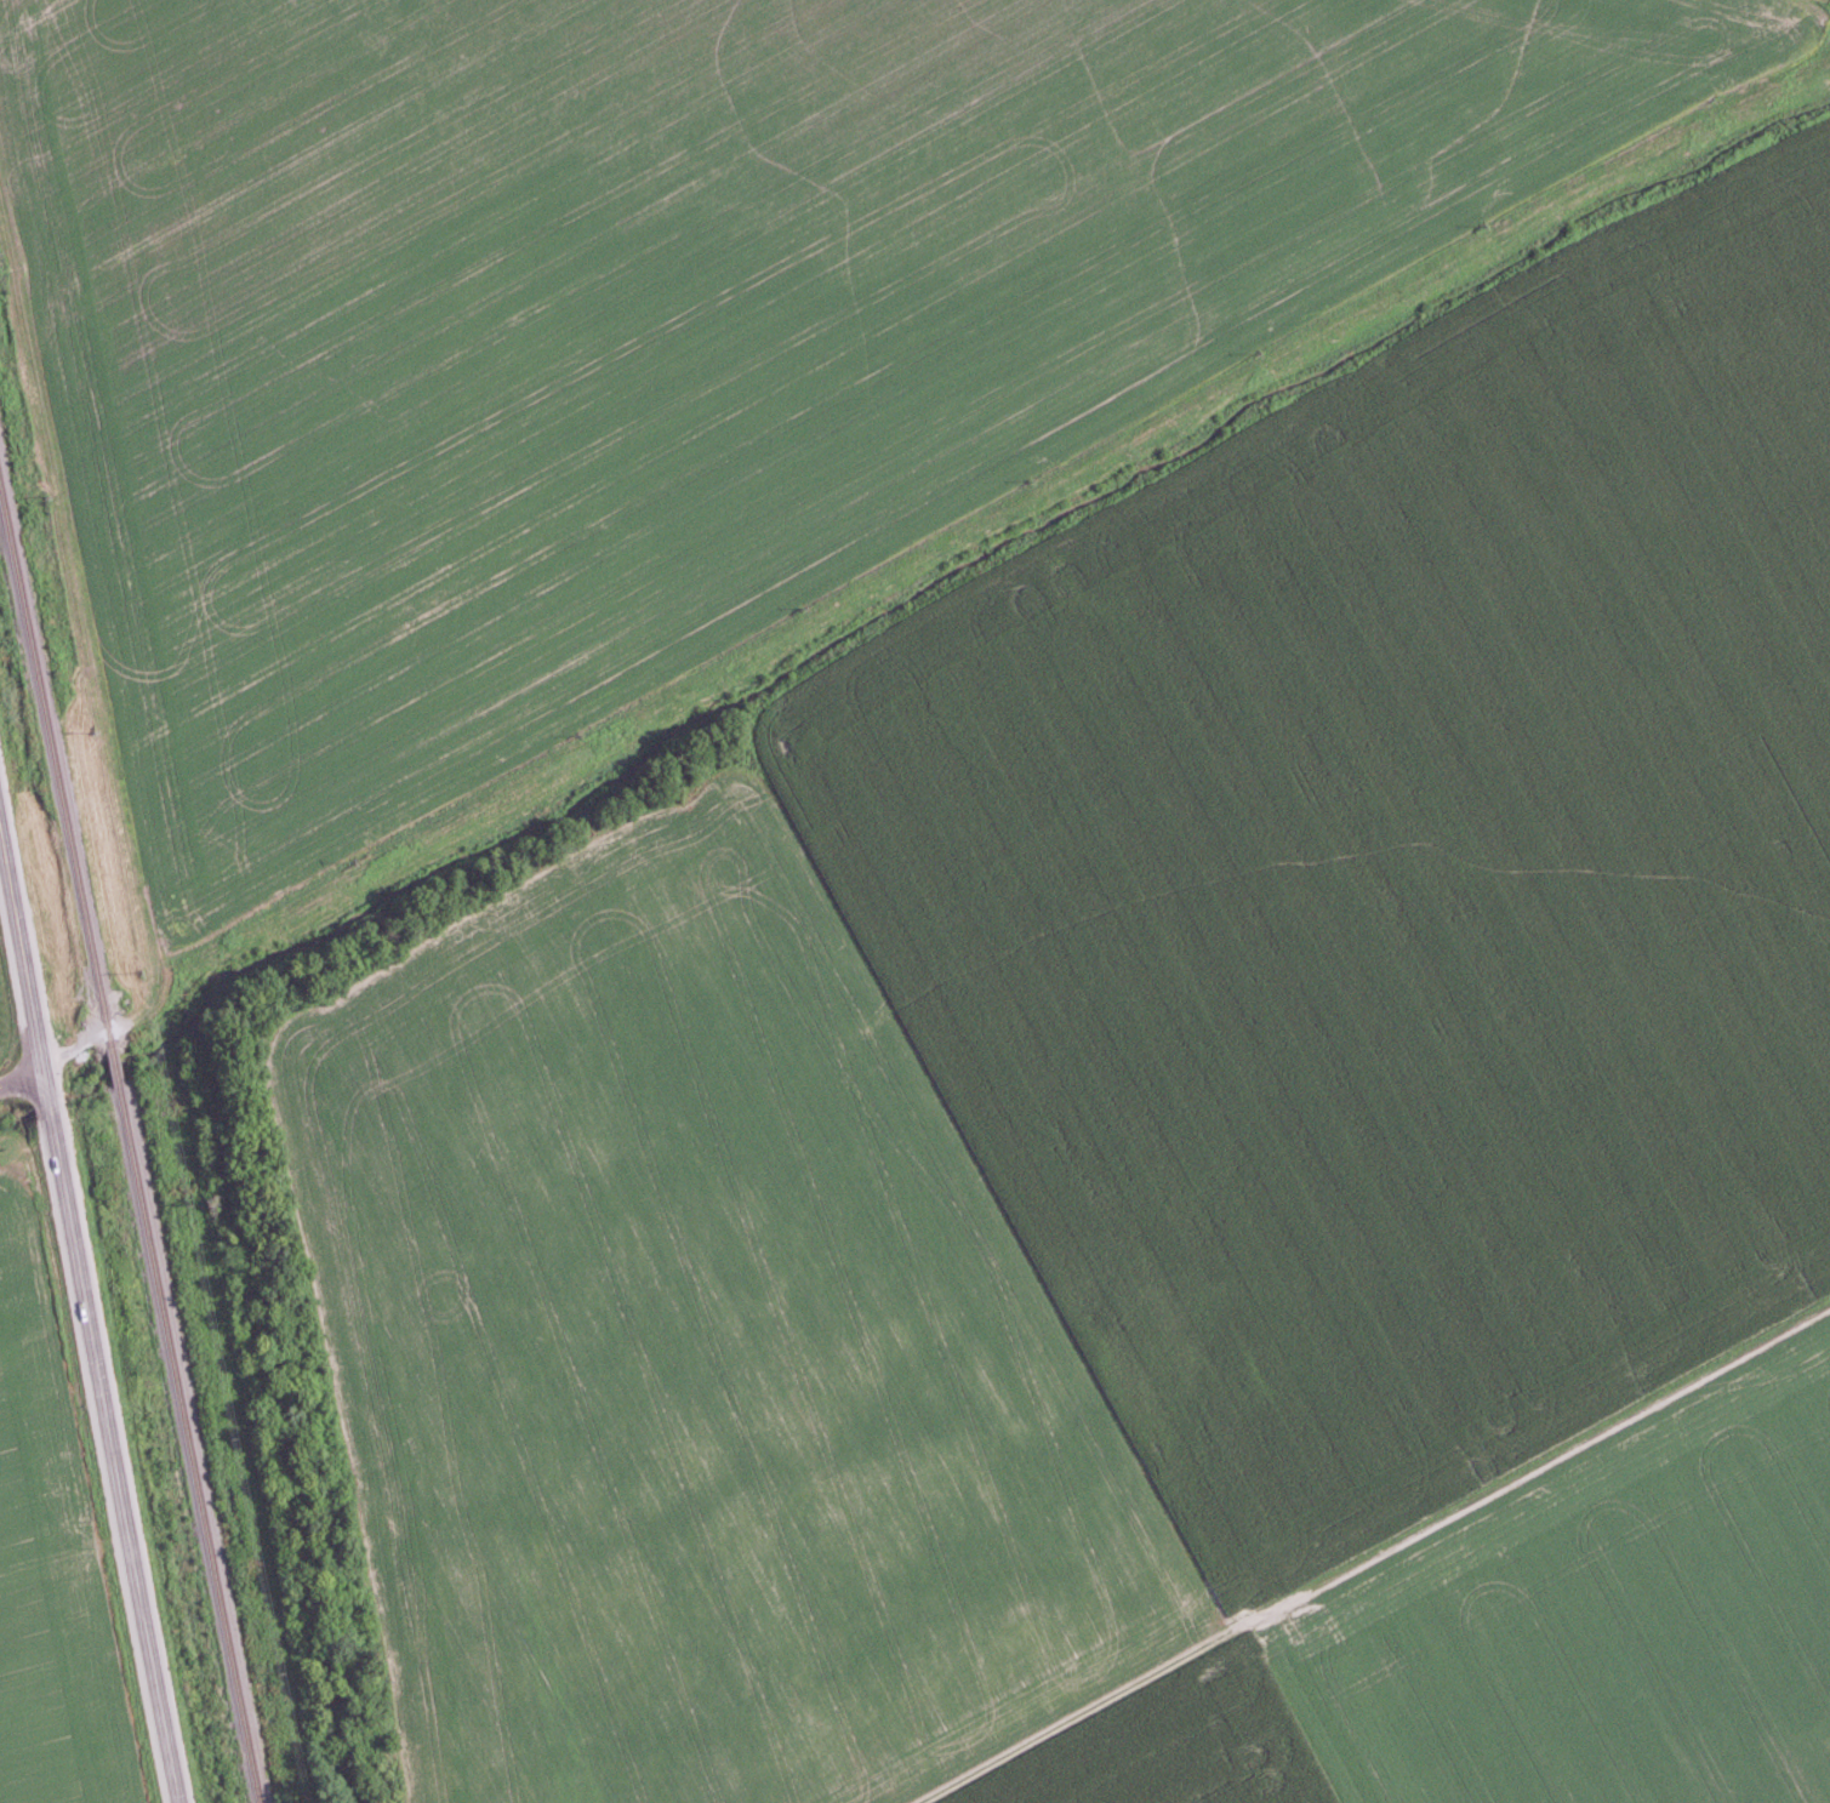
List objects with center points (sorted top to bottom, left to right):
road: (19, 1078)
railway: (130, 1145)
road: (86, 1326)

